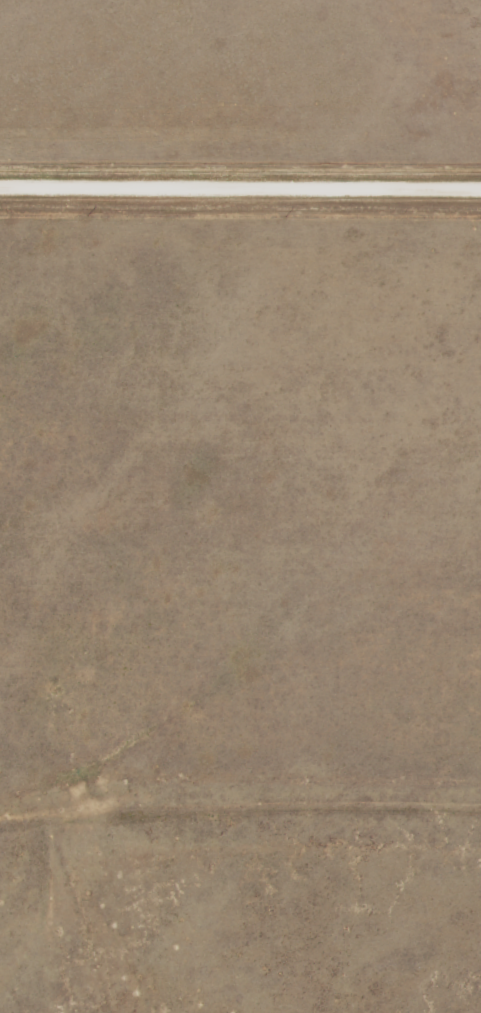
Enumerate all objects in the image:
road: (240, 184)

